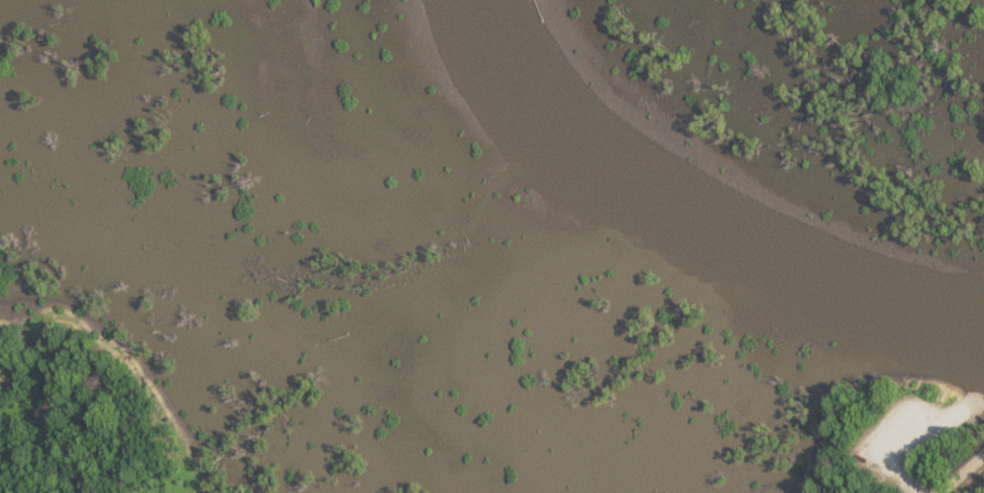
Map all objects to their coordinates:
river: (698, 216)
road: (921, 435)
road: (961, 473)

